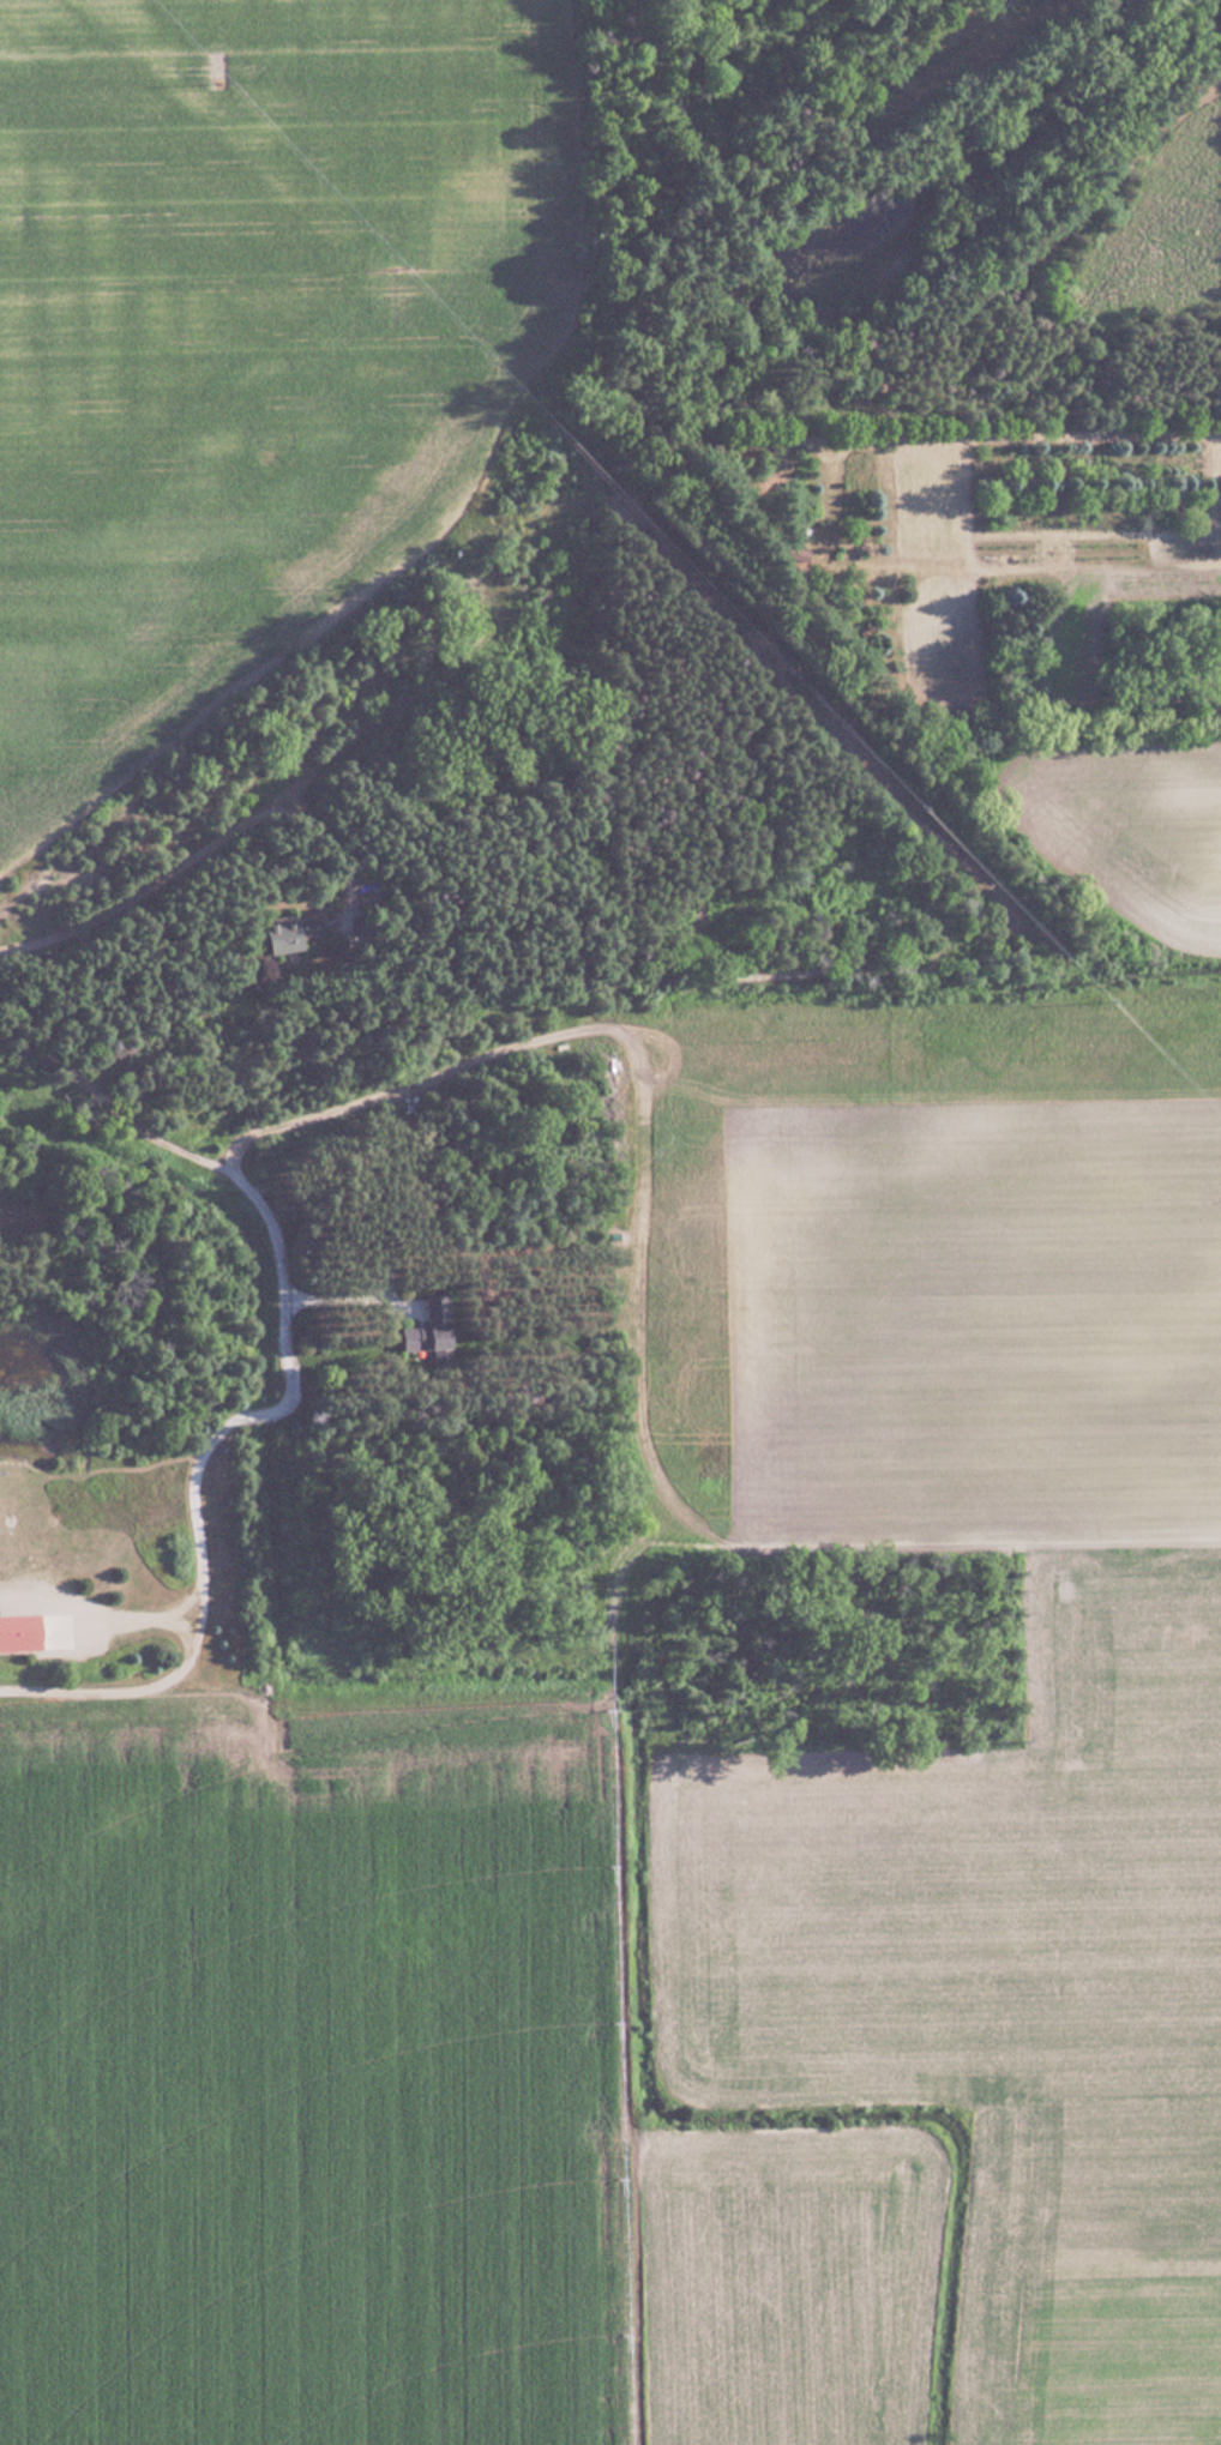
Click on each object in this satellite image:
building: (789, 555)
road: (285, 797)
building: (287, 934)
building: (431, 1329)
road: (278, 1395)
road: (100, 1609)
road: (167, 1619)

